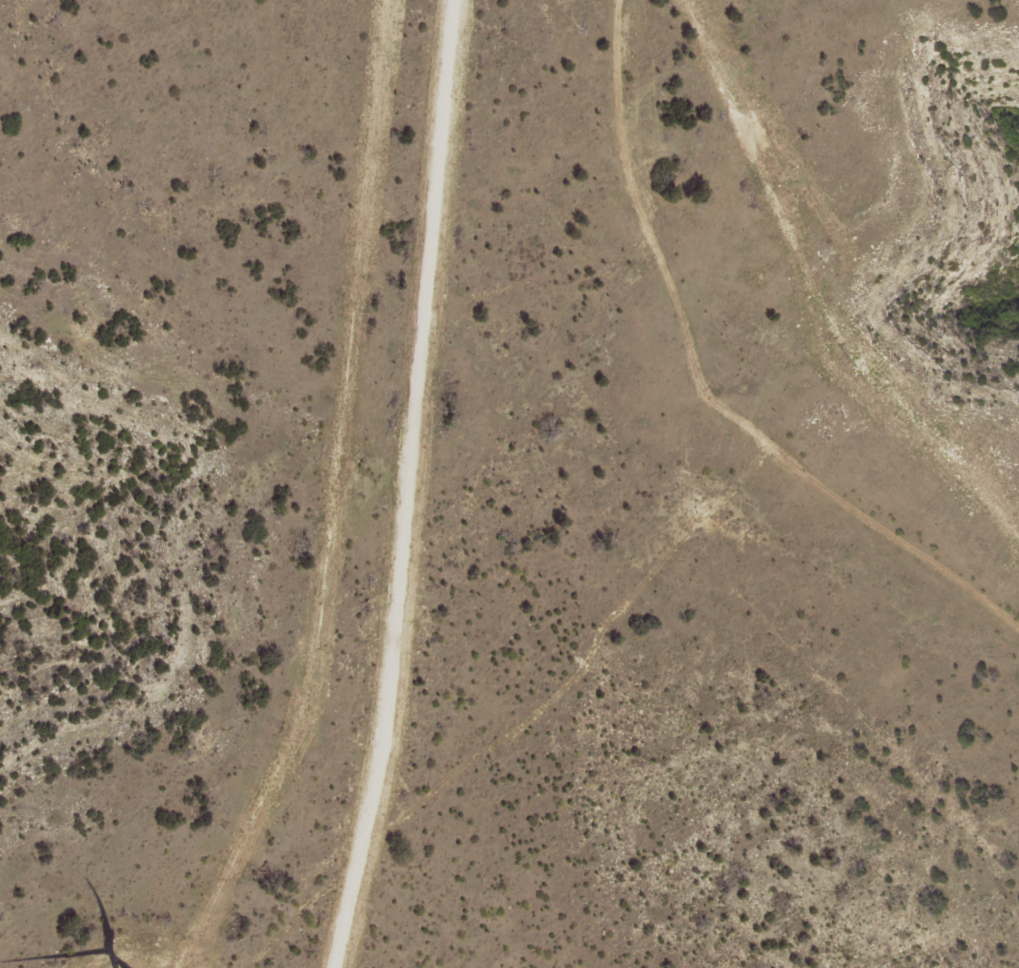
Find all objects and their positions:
road: (729, 389)

